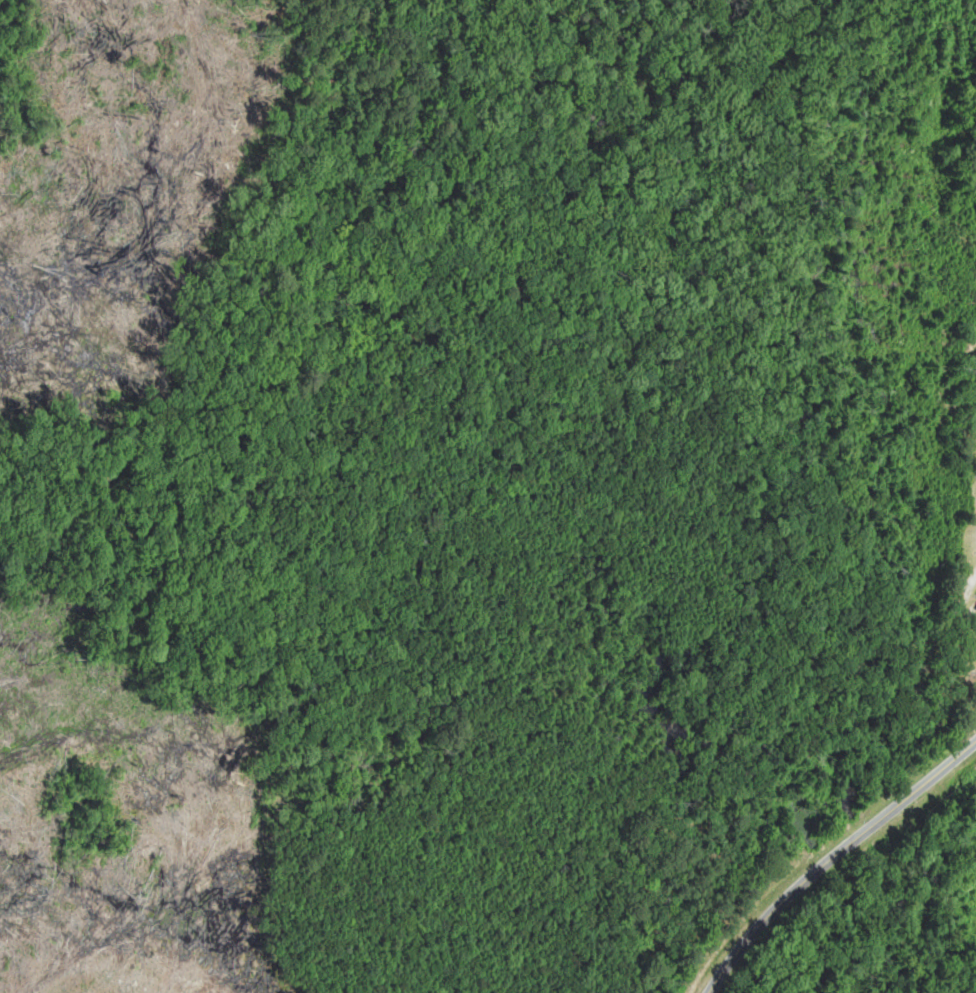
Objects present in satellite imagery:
road: (832, 857)

